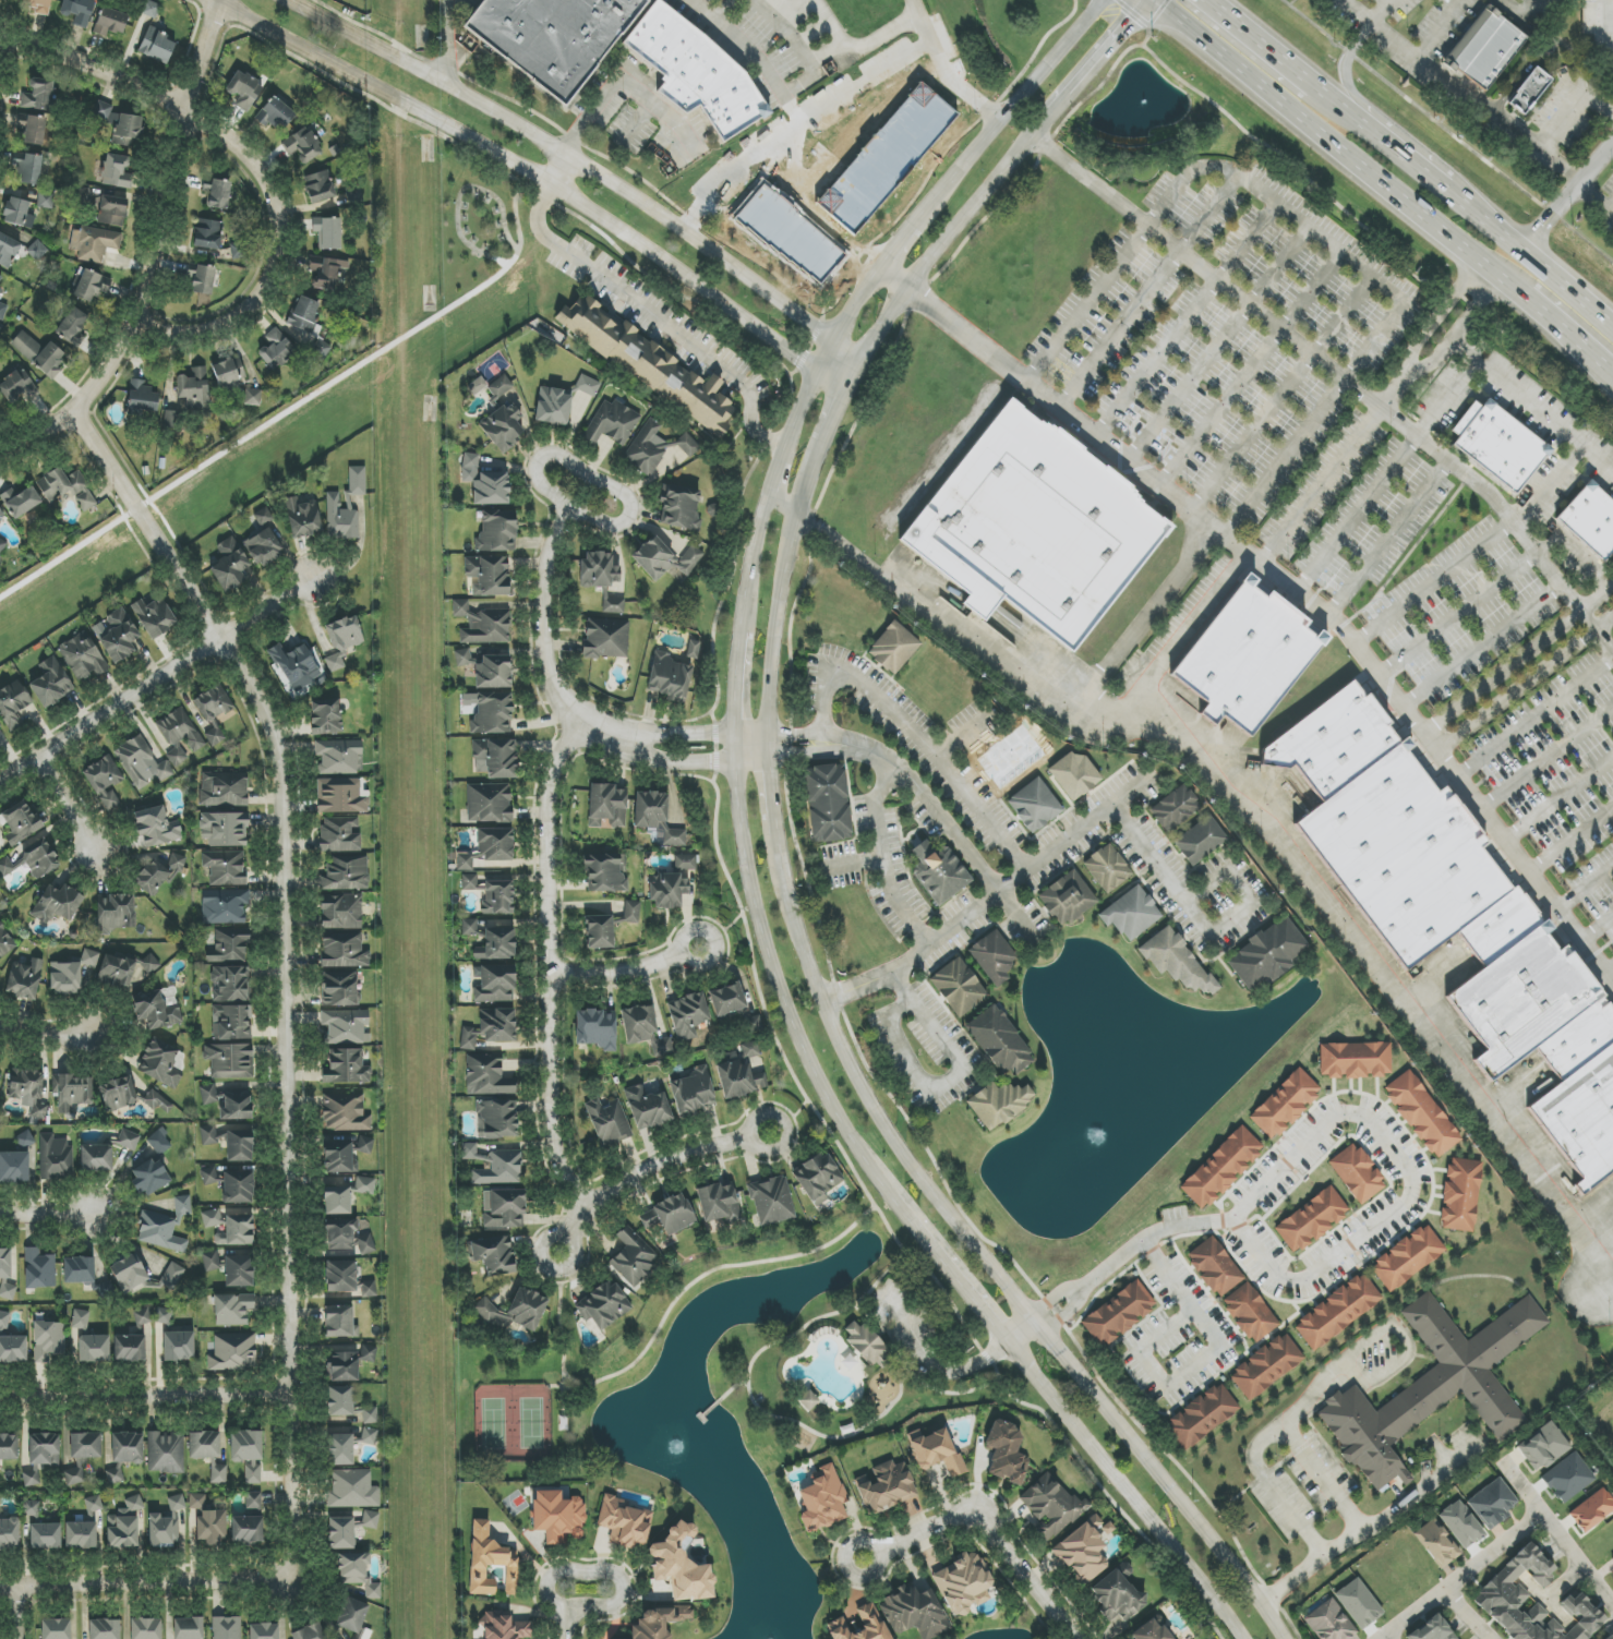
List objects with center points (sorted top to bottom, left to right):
building: (2, 1)
building: (38, 5)
road: (719, 5)
building: (151, 10)
building: (77, 11)
road: (1382, 12)
road: (1519, 17)
traffic signals: (1132, 20)
building: (110, 22)
road: (1606, 22)
road: (1235, 24)
road: (1441, 31)
road: (442, 35)
building: (561, 37)
road: (746, 37)
road: (864, 38)
road: (1357, 41)
building: (157, 46)
building: (1486, 50)
road: (1540, 51)
road: (4, 55)
road: (94, 58)
road: (1097, 60)
road: (811, 61)
road: (948, 69)
building: (701, 72)
road: (627, 84)
building: (243, 91)
road: (1320, 92)
road: (1458, 92)
building: (1527, 93)
building: (39, 95)
road: (1353, 98)
road: (1572, 105)
fountain: (1139, 108)
building: (275, 115)
road: (638, 118)
road: (801, 121)
building: (120, 125)
building: (35, 129)
building: (302, 145)
road: (1336, 146)
road: (593, 159)
road: (569, 164)
road: (1411, 165)
road: (543, 167)
building: (28, 169)
building: (117, 171)
building: (320, 186)
building: (217, 194)
road: (799, 195)
road: (1597, 197)
road: (1567, 198)
building: (45, 202)
building: (111, 210)
building: (17, 213)
building: (324, 231)
building: (207, 234)
road: (954, 234)
road: (277, 240)
building: (94, 243)
road: (847, 246)
building: (8, 250)
building: (37, 251)
road: (149, 251)
road: (1337, 252)
road: (1532, 260)
building: (314, 265)
building: (330, 275)
building: (0, 277)
building: (203, 280)
building: (87, 286)
building: (0, 289)
road: (1088, 302)
building: (2, 311)
road: (658, 312)
building: (304, 314)
road: (1265, 314)
building: (72, 327)
road: (1562, 332)
building: (276, 350)
building: (39, 354)
building: (648, 364)
park: (493, 367)
building: (228, 371)
road: (1609, 372)
building: (477, 384)
building: (587, 386)
building: (17, 387)
building: (499, 387)
road: (1510, 387)
building: (193, 388)
road: (843, 396)
building: (252, 397)
building: (142, 399)
building: (553, 407)
building: (174, 419)
building: (612, 423)
building: (503, 427)
road: (1085, 427)
building: (1497, 445)
building: (655, 447)
road: (1563, 469)
road: (817, 481)
building: (485, 483)
road: (123, 486)
building: (67, 487)
road: (1491, 497)
building: (20, 501)
building: (346, 507)
building: (679, 509)
road: (1353, 511)
building: (1, 513)
building: (302, 518)
building: (1590, 522)
building: (1034, 530)
building: (496, 531)
road: (561, 531)
road: (1386, 538)
building: (265, 540)
building: (2, 546)
building: (665, 556)
building: (230, 564)
building: (598, 570)
building: (487, 575)
road: (1433, 582)
building: (612, 603)
road: (1145, 616)
building: (154, 617)
road: (1331, 619)
road: (1588, 620)
building: (482, 624)
road: (783, 624)
building: (119, 636)
building: (605, 639)
building: (342, 640)
road: (1604, 642)
road: (1481, 647)
building: (893, 648)
building: (693, 649)
building: (82, 658)
building: (1245, 659)
road: (1517, 659)
road: (155, 668)
building: (486, 668)
building: (671, 677)
building: (51, 683)
road: (1525, 685)
road: (1043, 686)
building: (13, 703)
building: (213, 712)
building: (492, 714)
road: (1533, 715)
building: (326, 716)
building: (1, 733)
road: (706, 733)
road: (916, 733)
road: (962, 734)
building: (180, 735)
building: (1333, 740)
building: (339, 757)
building: (495, 758)
road: (703, 762)
building: (141, 763)
road: (908, 775)
building: (1074, 775)
building: (104, 782)
building: (222, 790)
road: (774, 791)
building: (341, 795)
road: (65, 802)
building: (489, 803)
building: (828, 804)
building: (1034, 805)
building: (607, 806)
building: (1175, 808)
building: (657, 817)
building: (20, 823)
building: (156, 827)
building: (224, 829)
building: (339, 834)
road: (747, 840)
building: (1200, 841)
road: (1570, 843)
building: (487, 848)
road: (883, 859)
building: (32, 861)
building: (225, 867)
building: (1107, 868)
building: (605, 872)
building: (939, 872)
building: (158, 873)
building: (345, 875)
building: (469, 882)
building: (673, 883)
building: (497, 897)
building: (1067, 899)
road: (988, 900)
building: (57, 904)
building: (224, 905)
building: (341, 912)
building: (630, 912)
building: (115, 913)
building: (1130, 913)
road: (1204, 926)
building: (599, 932)
building: (491, 940)
building: (5, 942)
building: (229, 945)
building: (1474, 945)
building: (344, 951)
building: (1267, 953)
building: (994, 956)
building: (1176, 961)
building: (147, 965)
road: (547, 966)
building: (0, 968)
building: (116, 972)
building: (71, 973)
road: (628, 973)
road: (1609, 973)
building: (25, 978)
road: (1389, 980)
building: (494, 983)
building: (229, 984)
building: (958, 987)
building: (339, 989)
building: (169, 996)
building: (727, 999)
building: (156, 1011)
building: (687, 1015)
building: (230, 1023)
building: (345, 1027)
building: (489, 1028)
building: (595, 1028)
building: (643, 1029)
road: (44, 1039)
building: (998, 1041)
building: (750, 1049)
road: (286, 1056)
building: (1355, 1060)
building: (230, 1061)
building: (161, 1063)
building: (346, 1068)
building: (486, 1075)
building: (738, 1077)
road: (950, 1078)
building: (28, 1089)
building: (693, 1090)
building: (72, 1092)
building: (118, 1094)
building: (159, 1101)
building: (229, 1101)
building: (999, 1104)
building: (1285, 1104)
building: (649, 1107)
building: (345, 1111)
building: (1421, 1113)
building: (496, 1119)
building: (609, 1122)
road: (1328, 1122)
fountain: (1097, 1133)
building: (208, 1135)
building: (128, 1140)
building: (159, 1142)
building: (24, 1144)
building: (365, 1145)
building: (239, 1146)
building: (471, 1153)
building: (337, 1156)
building: (55, 1158)
building: (96, 1159)
building: (14, 1168)
building: (1221, 1168)
building: (501, 1169)
road: (645, 1169)
building: (1357, 1173)
building: (212, 1177)
building: (149, 1178)
building: (817, 1178)
building: (365, 1185)
building: (238, 1188)
building: (1460, 1195)
building: (337, 1200)
building: (772, 1200)
building: (719, 1203)
building: (503, 1209)
building: (669, 1215)
road: (49, 1217)
building: (212, 1218)
building: (1312, 1219)
building: (165, 1227)
building: (237, 1231)
building: (346, 1237)
building: (493, 1255)
building: (634, 1256)
building: (1407, 1258)
building: (8, 1264)
building: (232, 1267)
road: (989, 1267)
building: (1215, 1267)
building: (39, 1269)
building: (79, 1270)
building: (129, 1274)
building: (171, 1276)
building: (347, 1279)
building: (7, 1290)
building: (106, 1290)
building: (603, 1304)
building: (232, 1309)
building: (514, 1310)
building: (1337, 1312)
building: (1250, 1313)
building: (1118, 1314)
building: (164, 1315)
building: (142, 1317)
building: (81, 1318)
building: (338, 1322)
building: (48, 1340)
building: (866, 1342)
building: (11, 1343)
building: (179, 1346)
building: (129, 1348)
building: (94, 1349)
building: (232, 1352)
road: (1201, 1360)
building: (848, 1362)
building: (348, 1364)
park: (727, 1366)
building: (1266, 1366)
road: (942, 1367)
building: (1433, 1388)
road: (145, 1399)
building: (808, 1400)
building: (339, 1401)
building: (370, 1415)
building: (1202, 1415)
road: (1268, 1435)
building: (369, 1436)
building: (204, 1445)
building: (8, 1447)
building: (1543, 1447)
building: (128, 1448)
building: (339, 1449)
fountain: (681, 1450)
building: (935, 1450)
building: (166, 1453)
building: (248, 1453)
building: (1006, 1453)
building: (41, 1456)
building: (82, 1456)
building: (218, 1473)
building: (113, 1475)
road: (1325, 1475)
building: (1567, 1478)
building: (886, 1487)
building: (351, 1490)
building: (822, 1499)
building: (253, 1501)
building: (196, 1502)
building: (176, 1503)
building: (94, 1504)
building: (1492, 1504)
building: (1050, 1505)
building: (32, 1509)
building: (1592, 1510)
building: (557, 1516)
building: (370, 1519)
road: (984, 1519)
building: (625, 1523)
building: (1461, 1524)
building: (124, 1526)
building: (212, 1527)
road: (1365, 1527)
building: (162, 1530)
building: (246, 1530)
building: (9, 1533)
building: (340, 1533)
road: (1556, 1535)
building: (45, 1536)
building: (1437, 1543)
building: (1083, 1550)
building: (491, 1562)
building: (682, 1565)
building: (356, 1576)
road: (1460, 1576)
building: (962, 1584)
road: (145, 1587)
building: (1501, 1589)
building: (1116, 1595)
building: (1359, 1603)
building: (914, 1612)
road: (15, 1614)
building: (351, 1615)
road: (1465, 1615)
road: (567, 1616)
building: (870, 1619)
building: (658, 1622)
building: (1329, 1622)
building: (504, 1626)
building: (226, 1627)
building: (56, 1628)
building: (146, 1628)
building: (189, 1628)
building: (104, 1629)
building: (267, 1630)
building: (1151, 1630)
building: (1432, 1630)
building: (312, 1631)
building: (1611, 1637)
building: (358, 1638)

